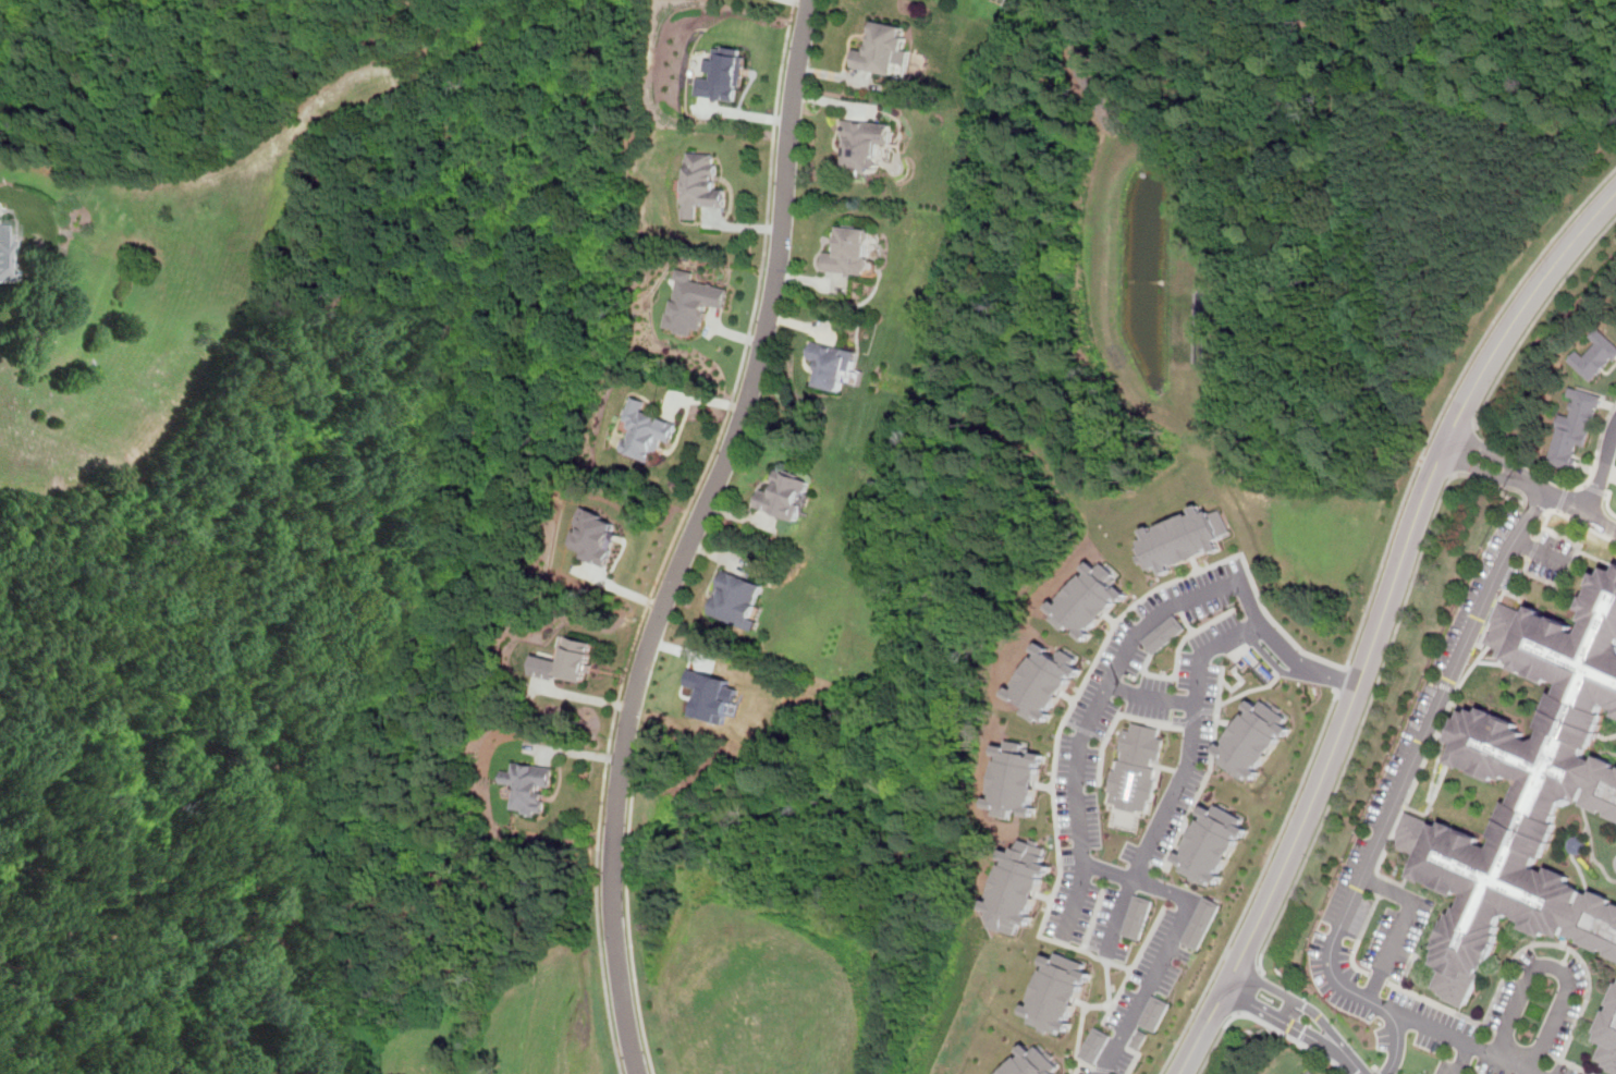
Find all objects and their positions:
building: (884, 48)
building: (721, 75)
road: (1467, 113)
building: (865, 142)
building: (700, 183)
road: (1352, 205)
building: (4, 236)
building: (850, 253)
building: (693, 304)
road: (1538, 317)
building: (1596, 356)
building: (831, 365)
road: (1447, 396)
building: (1576, 427)
building: (645, 431)
road: (1482, 444)
road: (1462, 448)
road: (1421, 460)
road: (1602, 472)
road: (1454, 473)
road: (1490, 473)
road: (1529, 475)
road: (1479, 479)
road: (1520, 491)
building: (783, 497)
road: (1544, 505)
road: (1578, 509)
road: (672, 534)
road: (694, 535)
building: (593, 537)
building: (1184, 538)
building: (1091, 599)
building: (736, 602)
road: (1379, 620)
building: (1165, 633)
road: (1284, 646)
building: (565, 662)
road: (1273, 662)
building: (1048, 681)
road: (1105, 688)
building: (709, 695)
road: (1151, 695)
road: (1361, 725)
road: (1191, 739)
building: (1254, 739)
building: (1137, 767)
building: (1018, 779)
road: (1417, 781)
building: (528, 785)
road: (1436, 788)
road: (1400, 790)
building: (1213, 843)
road: (1263, 875)
road: (1386, 878)
building: (1019, 886)
road: (1382, 886)
building: (1496, 895)
road: (1075, 899)
road: (1119, 915)
building: (1137, 916)
building: (1201, 922)
road: (1366, 925)
road: (1404, 925)
road: (631, 926)
road: (1173, 936)
road: (1581, 956)
road: (1555, 966)
road: (1359, 967)
road: (1379, 980)
building: (1060, 992)
road: (1247, 994)
road: (1442, 1006)
building: (1155, 1012)
road: (1263, 1022)
road: (1300, 1022)
building: (1608, 1036)
building: (1140, 1038)
road: (1467, 1041)
road: (1521, 1044)
building: (1097, 1045)
road: (1554, 1055)
road: (1464, 1059)
building: (1033, 1062)
road: (1371, 1071)
road: (1376, 1071)
building: (1313, 1072)

